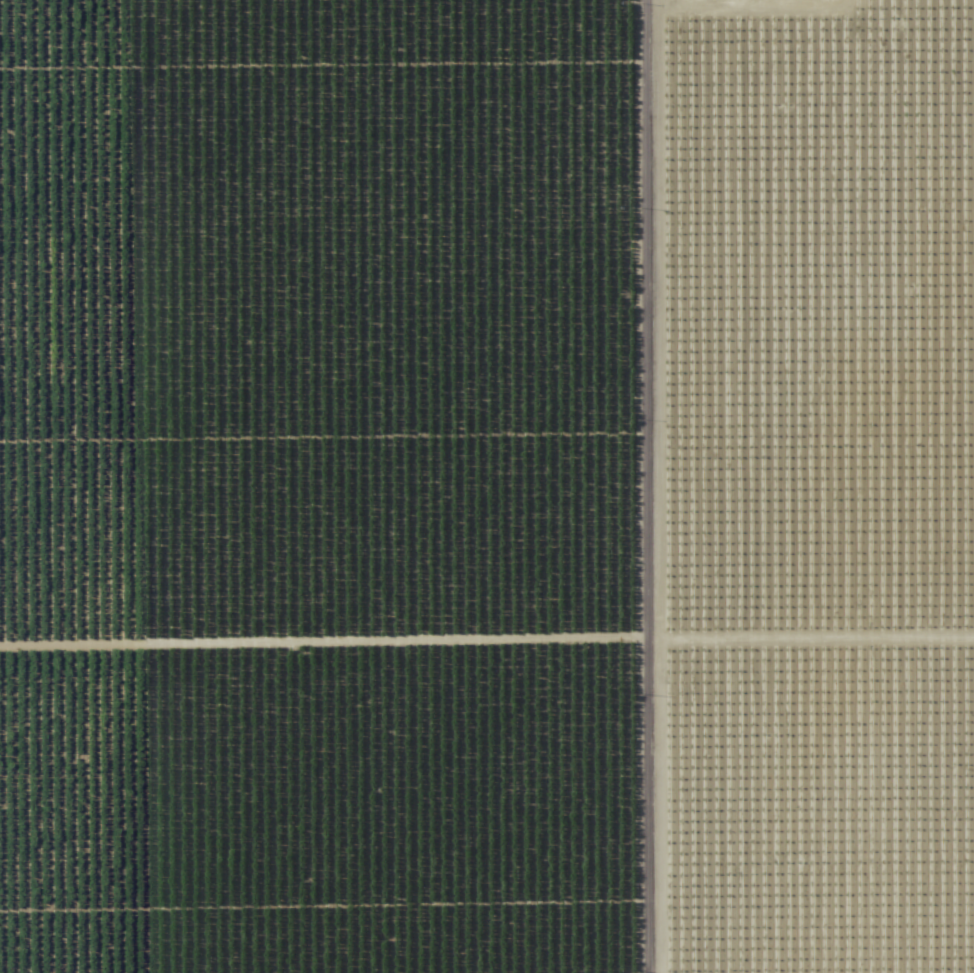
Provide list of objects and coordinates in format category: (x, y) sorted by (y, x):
road: (636, 486)

